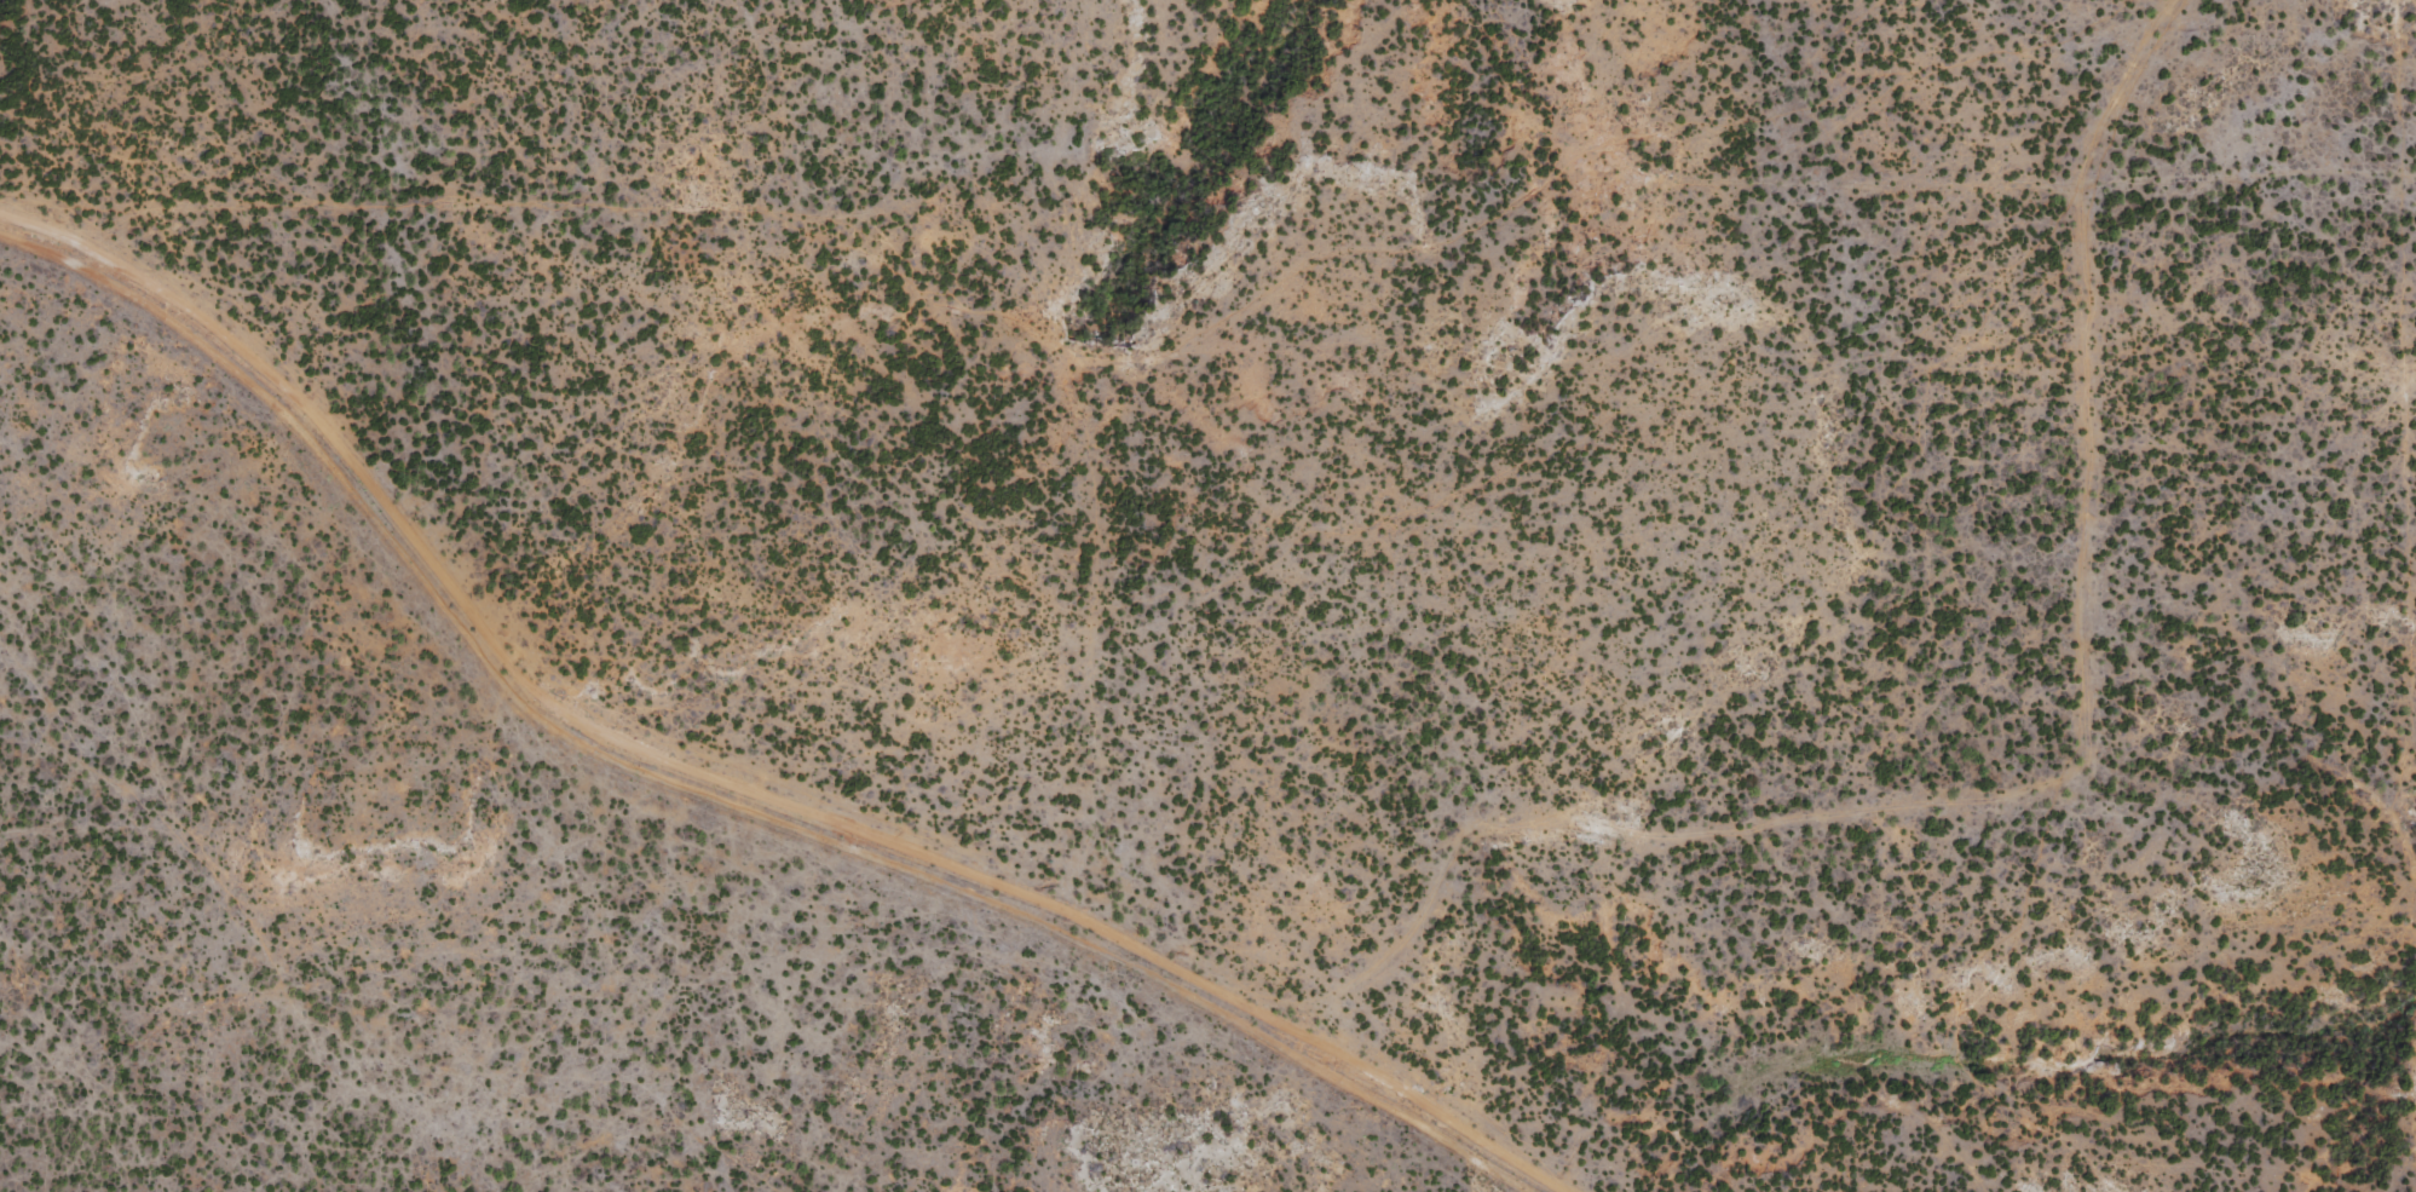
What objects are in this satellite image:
road: (721, 807)

